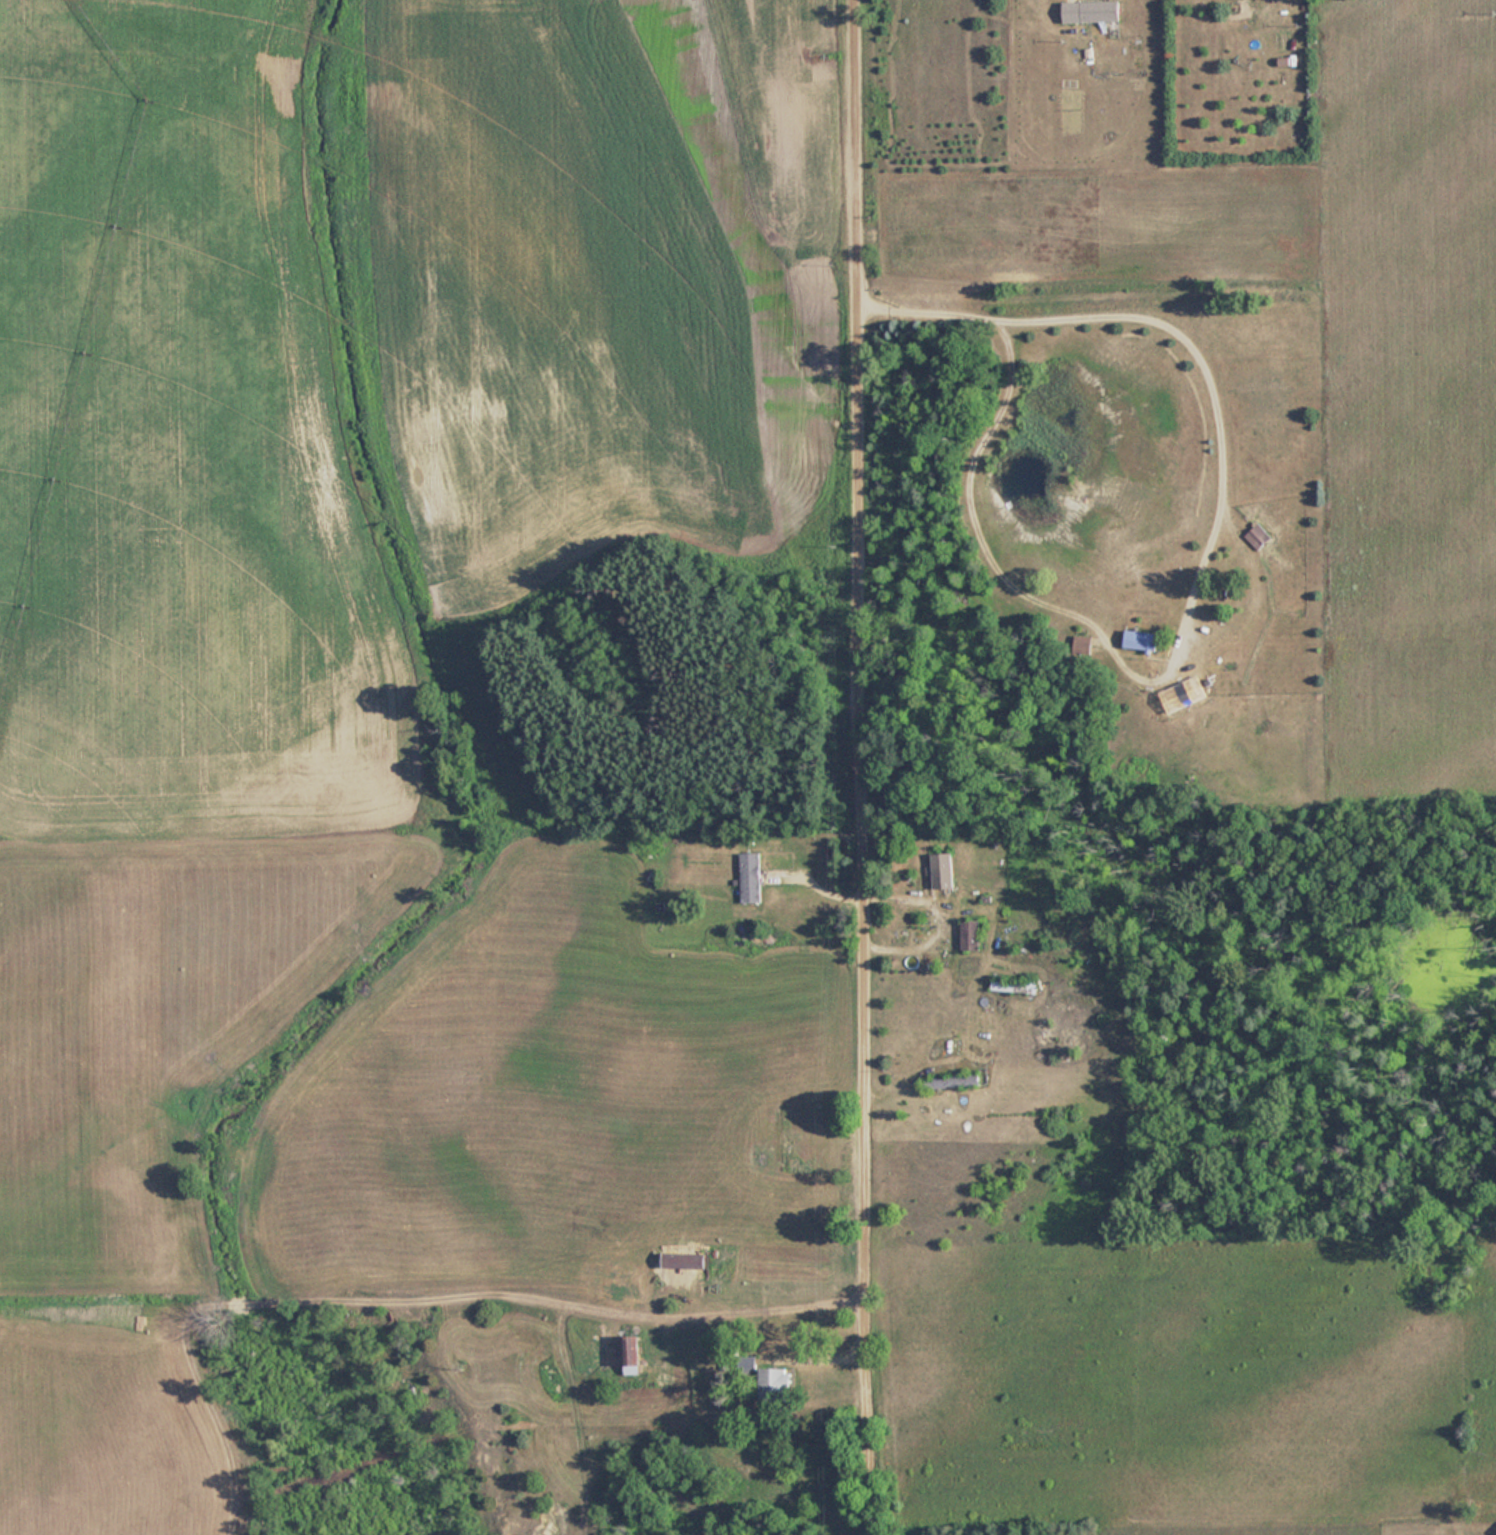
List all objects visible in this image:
building: (1091, 11)
building: (1257, 536)
building: (1141, 640)
building: (1177, 697)
road: (861, 767)
building: (943, 870)
building: (750, 877)
road: (937, 911)
building: (970, 934)
building: (1014, 986)
building: (952, 1080)
building: (684, 1260)
building: (631, 1355)
building: (778, 1384)

